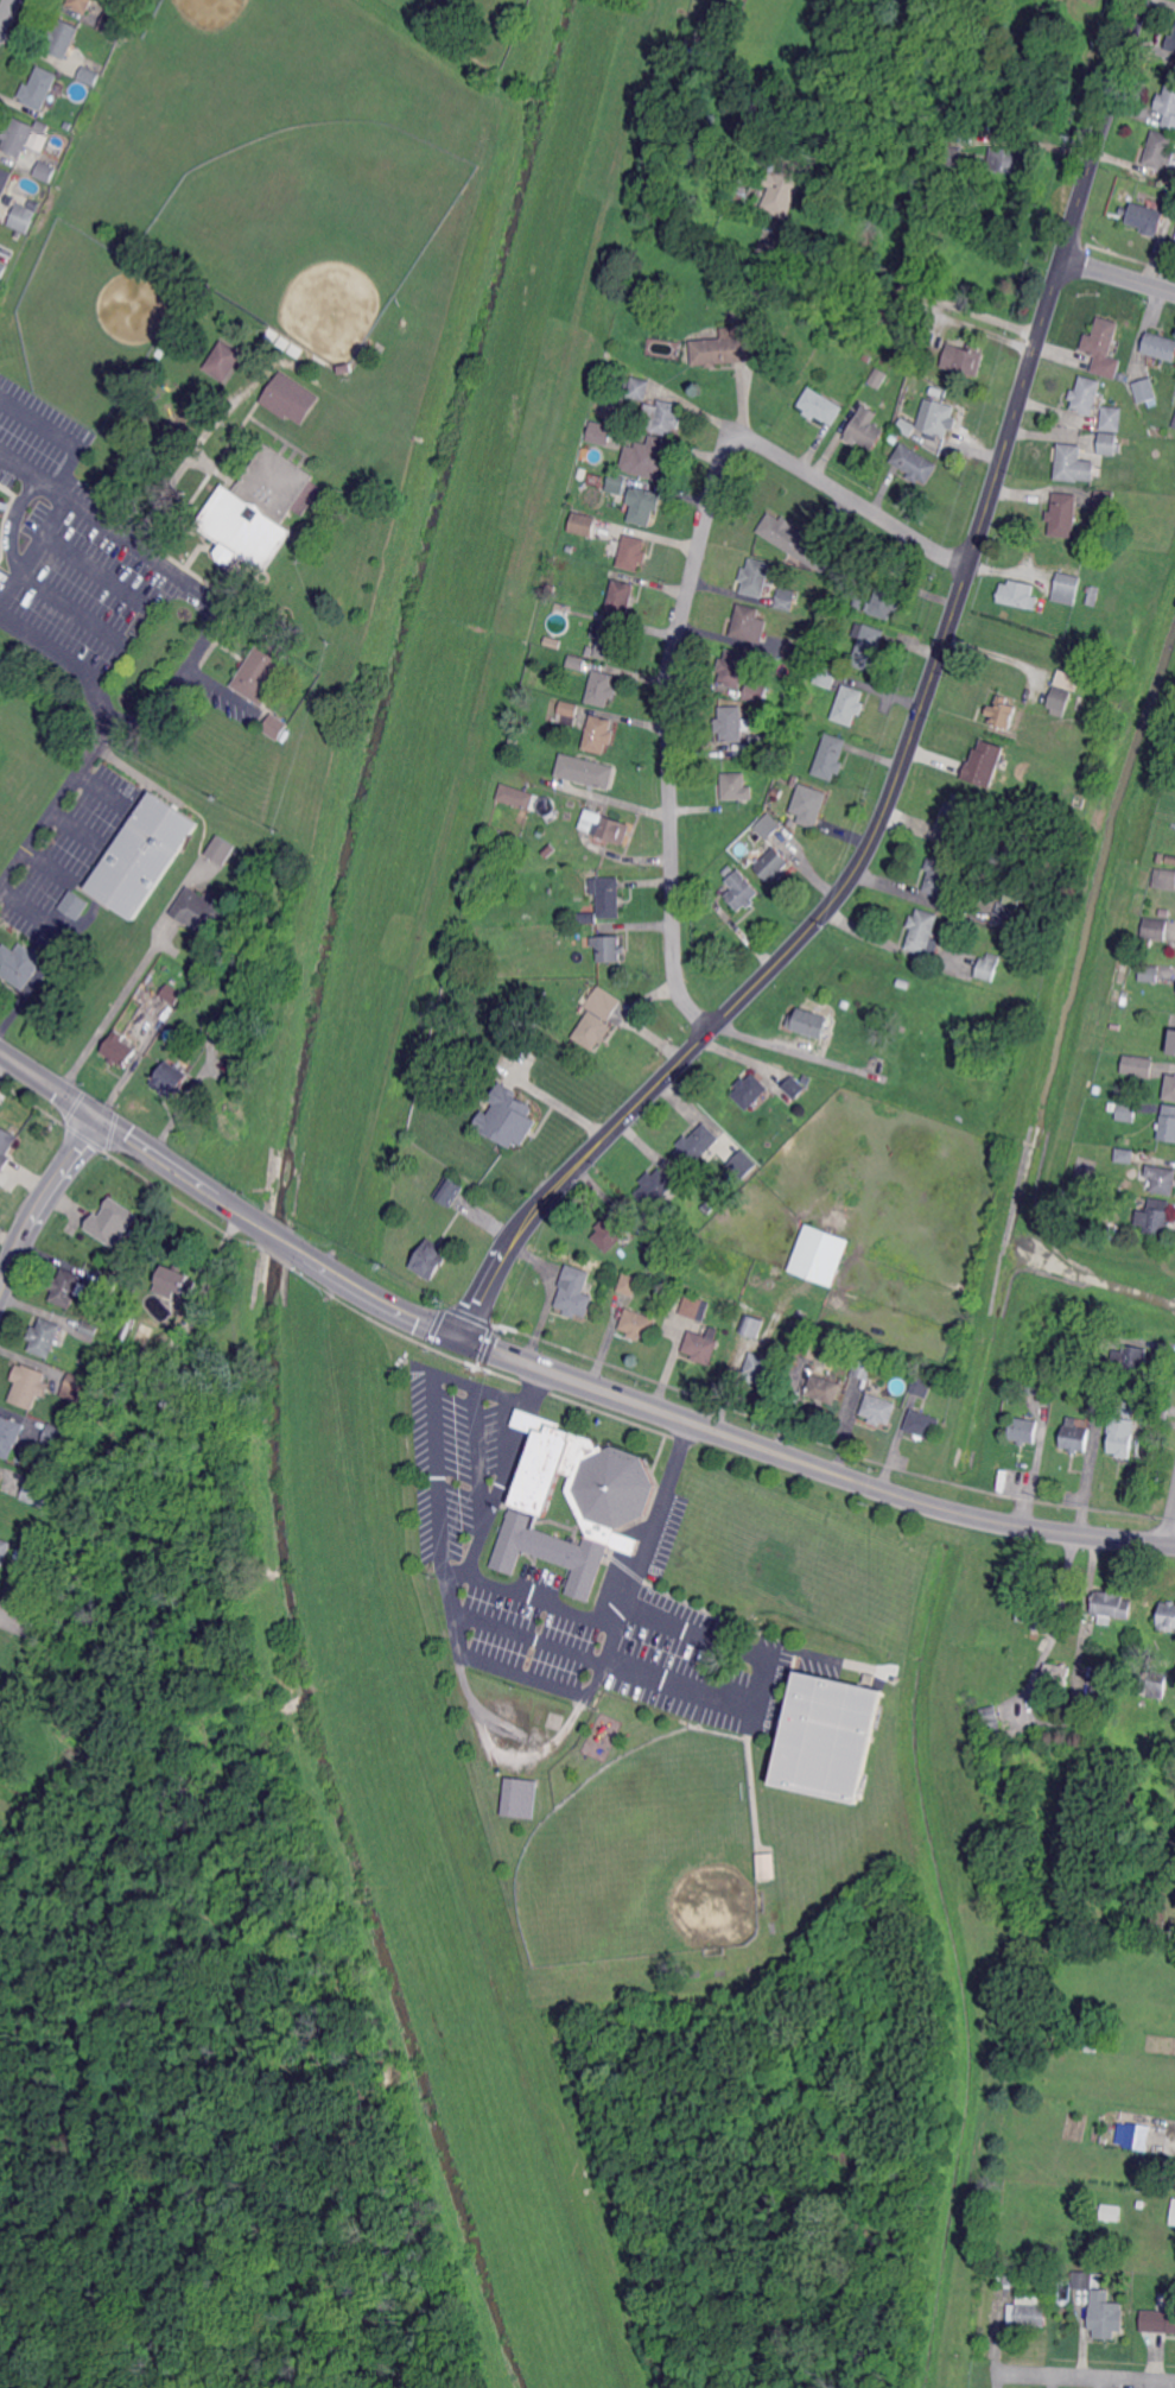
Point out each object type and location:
building: (81, 6)
road: (6, 13)
building: (446, 17)
building: (112, 24)
building: (61, 43)
building: (1170, 43)
building: (89, 77)
park: (229, 84)
building: (39, 91)
building: (1167, 108)
building: (76, 115)
building: (43, 127)
building: (17, 137)
building: (1160, 151)
building: (952, 157)
building: (1008, 163)
building: (45, 173)
building: (5, 182)
building: (15, 183)
building: (785, 189)
building: (23, 218)
building: (1149, 222)
park: (313, 224)
building: (693, 247)
building: (2, 271)
road: (1117, 273)
road: (907, 286)
building: (179, 297)
building: (897, 312)
park: (89, 322)
building: (903, 336)
building: (1101, 343)
building: (730, 347)
building: (1161, 349)
building: (224, 361)
building: (965, 362)
building: (348, 374)
building: (878, 379)
building: (639, 392)
building: (1147, 394)
building: (1087, 399)
building: (288, 401)
building: (819, 411)
building: (667, 418)
building: (941, 420)
building: (1112, 422)
building: (1173, 422)
building: (904, 427)
building: (1174, 429)
building: (863, 432)
building: (599, 433)
building: (897, 437)
building: (1126, 441)
building: (1110, 446)
building: (650, 458)
building: (1073, 464)
building: (914, 468)
building: (616, 484)
building: (1105, 499)
building: (5, 506)
building: (643, 506)
building: (259, 509)
road: (52, 513)
building: (1063, 514)
building: (0, 515)
building: (583, 525)
road: (13, 533)
building: (792, 537)
building: (570, 549)
building: (633, 552)
building: (836, 568)
road: (96, 570)
building: (756, 577)
road: (193, 584)
building: (1067, 588)
building: (1017, 594)
building: (1093, 594)
building: (621, 596)
building: (786, 598)
road: (685, 601)
building: (858, 601)
building: (885, 601)
building: (850, 615)
building: (749, 622)
building: (610, 641)
building: (868, 645)
building: (590, 650)
building: (796, 652)
building: (577, 661)
road: (80, 665)
building: (732, 666)
building: (262, 670)
building: (826, 674)
building: (1067, 678)
building: (602, 688)
building: (756, 691)
road: (159, 696)
building: (1060, 701)
building: (849, 704)
building: (569, 711)
building: (1002, 711)
building: (730, 723)
building: (780, 723)
building: (277, 727)
road: (910, 730)
building: (599, 734)
building: (762, 745)
building: (831, 756)
building: (985, 764)
road: (126, 766)
building: (509, 768)
building: (586, 771)
building: (793, 781)
building: (736, 786)
building: (775, 792)
building: (516, 796)
road: (55, 802)
building: (809, 804)
building: (957, 816)
building: (604, 825)
building: (768, 825)
road: (72, 828)
building: (1073, 842)
building: (220, 850)
building: (999, 853)
building: (144, 855)
building: (1162, 856)
building: (1171, 860)
road: (49, 864)
building: (773, 864)
building: (728, 869)
building: (941, 874)
building: (1166, 878)
building: (742, 891)
building: (608, 895)
building: (1012, 897)
building: (76, 904)
road: (30, 908)
building: (199, 912)
building: (586, 914)
building: (1006, 916)
building: (563, 919)
building: (1156, 927)
building: (922, 932)
building: (609, 946)
building: (20, 964)
building: (987, 968)
building: (1150, 971)
building: (494, 973)
building: (519, 986)
building: (171, 993)
building: (519, 1001)
building: (844, 1003)
road: (115, 1008)
building: (597, 1016)
building: (809, 1022)
building: (230, 1024)
building: (1117, 1026)
building: (1173, 1043)
building: (883, 1046)
building: (119, 1049)
building: (1143, 1066)
building: (170, 1079)
building: (794, 1087)
building: (1170, 1087)
building: (1098, 1089)
building: (750, 1090)
road: (552, 1097)
building: (1113, 1106)
road: (43, 1111)
building: (1128, 1111)
building: (509, 1117)
building: (1168, 1123)
road: (129, 1132)
building: (1125, 1140)
building: (697, 1145)
building: (6, 1146)
building: (1125, 1155)
building: (743, 1164)
building: (1084, 1167)
building: (1162, 1178)
building: (656, 1187)
building: (450, 1190)
road: (44, 1201)
building: (707, 1206)
building: (1156, 1216)
building: (112, 1222)
road: (277, 1231)
building: (610, 1231)
building: (1112, 1231)
building: (654, 1248)
building: (819, 1255)
building: (431, 1259)
building: (110, 1281)
building: (174, 1281)
building: (629, 1284)
building: (66, 1287)
building: (574, 1292)
building: (691, 1306)
building: (639, 1324)
building: (752, 1325)
building: (90, 1328)
building: (45, 1337)
building: (1086, 1338)
traffic signals: (462, 1339)
building: (145, 1341)
building: (703, 1343)
building: (809, 1347)
building: (1131, 1358)
building: (865, 1366)
building: (763, 1367)
building: (30, 1385)
building: (1040, 1385)
building: (923, 1386)
building: (75, 1387)
building: (825, 1387)
building: (1101, 1391)
building: (1157, 1408)
building: (879, 1410)
building: (1123, 1421)
building: (925, 1424)
building: (1025, 1430)
road: (722, 1432)
building: (9, 1434)
building: (56, 1436)
building: (1076, 1438)
building: (1, 1477)
building: (37, 1491)
building: (574, 1500)
road: (1173, 1538)
building: (5, 1550)
building: (1111, 1605)
building: (1035, 1616)
building: (1167, 1616)
road: (15, 1622)
road: (1053, 1627)
road: (616, 1665)
building: (1056, 1674)
building: (1154, 1684)
building: (1105, 1685)
building: (993, 1730)
building: (828, 1737)
building: (519, 1798)
park: (644, 1856)
building: (764, 1863)
building: (1091, 2047)
building: (1133, 2136)
building: (1142, 2203)
building: (1110, 2209)
building: (1173, 2215)
building: (1015, 2273)
building: (1088, 2280)
building: (1035, 2312)
building: (1106, 2316)
building: (1160, 2318)
road: (1084, 2377)

